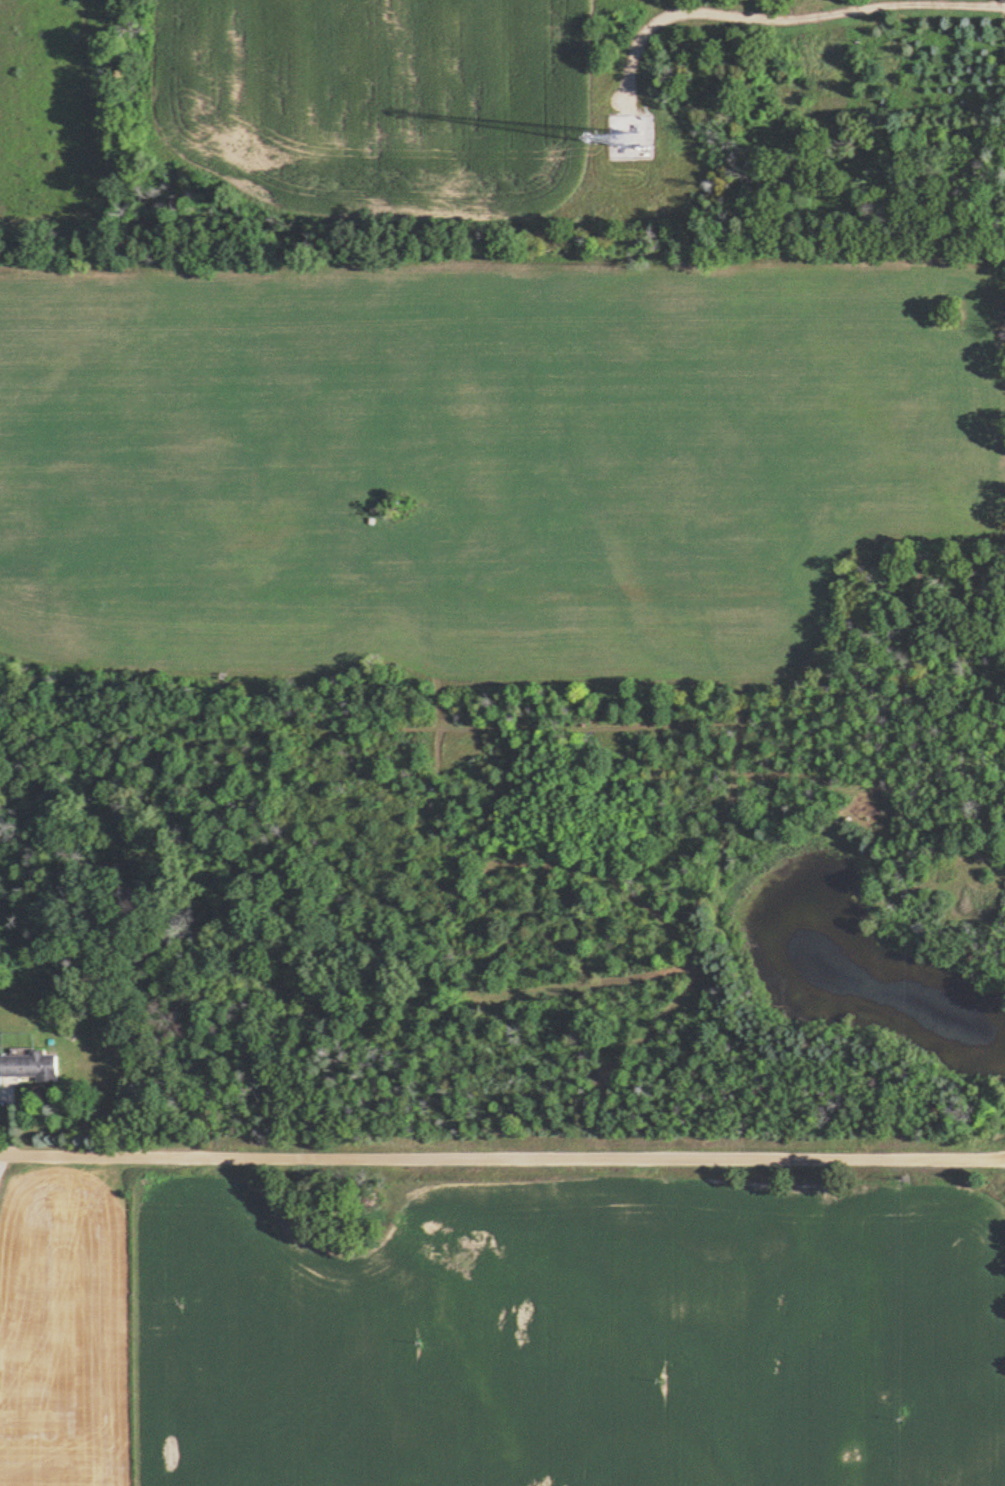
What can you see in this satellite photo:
road: (785, 17)
building: (32, 1064)
road: (502, 1155)

